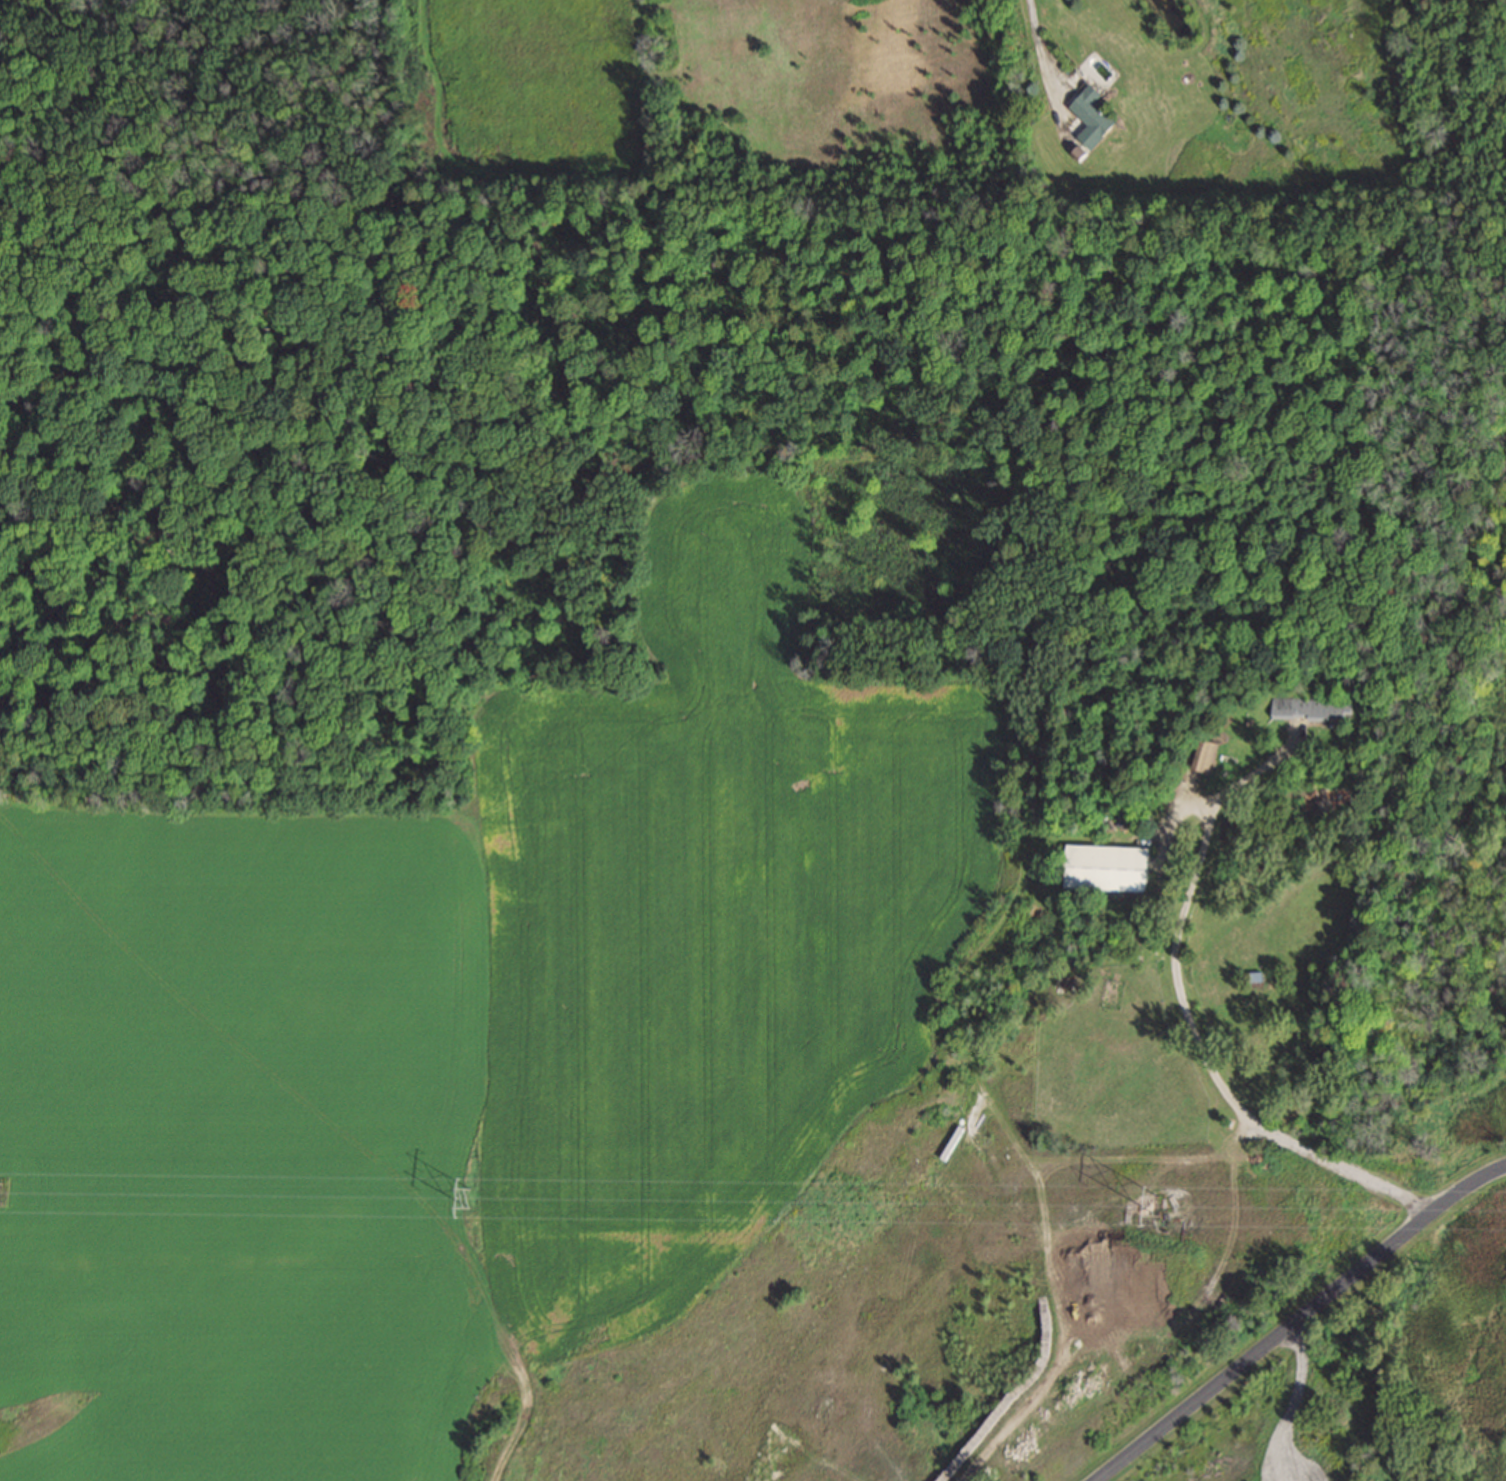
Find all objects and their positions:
building: (1094, 116)
building: (1315, 707)
building: (1202, 753)
building: (1110, 866)
road: (1187, 1017)
power tower: (0, 1189)
power tower: (464, 1196)
power tower: (1157, 1202)
road: (1298, 1319)
road: (514, 1429)

